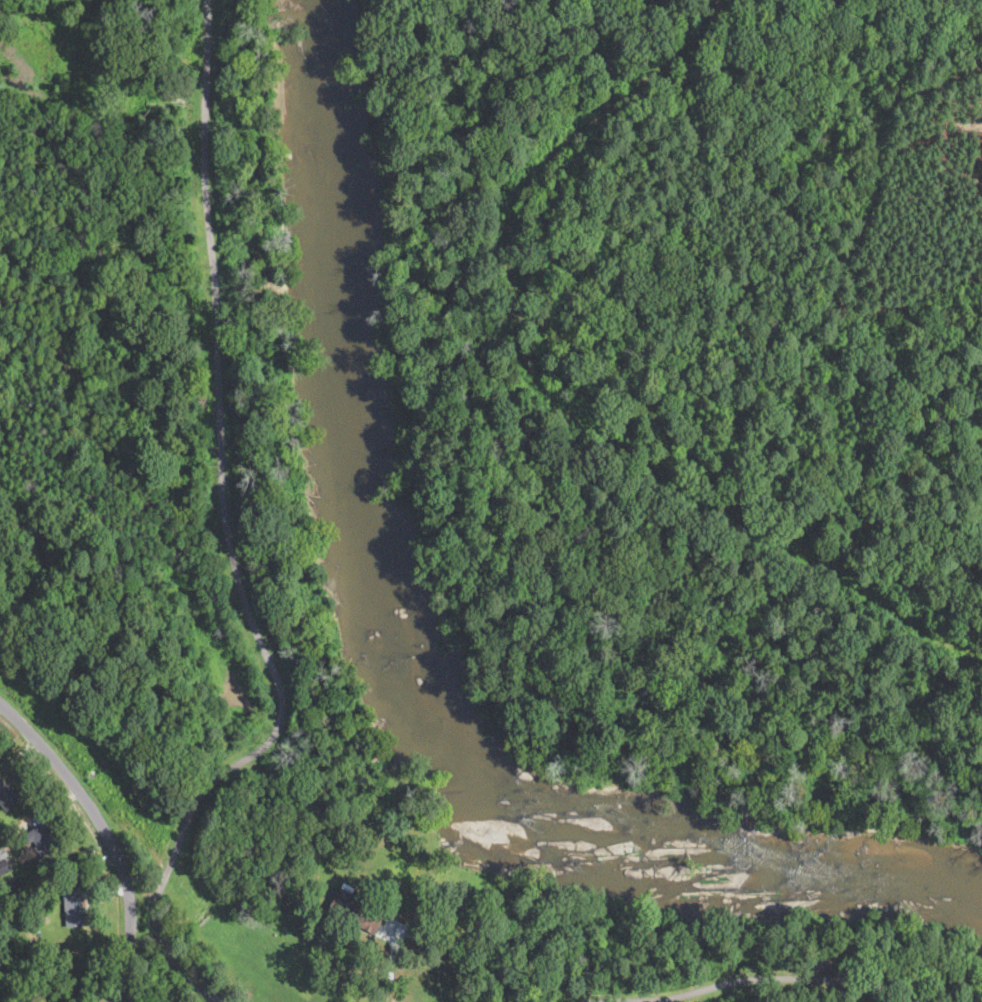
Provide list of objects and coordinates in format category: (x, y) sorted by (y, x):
road: (230, 544)
river: (433, 650)
building: (7, 795)
road: (103, 828)
building: (42, 838)
building: (3, 863)
building: (74, 907)
building: (355, 909)
road: (393, 965)
road: (755, 979)
road: (118, 992)

